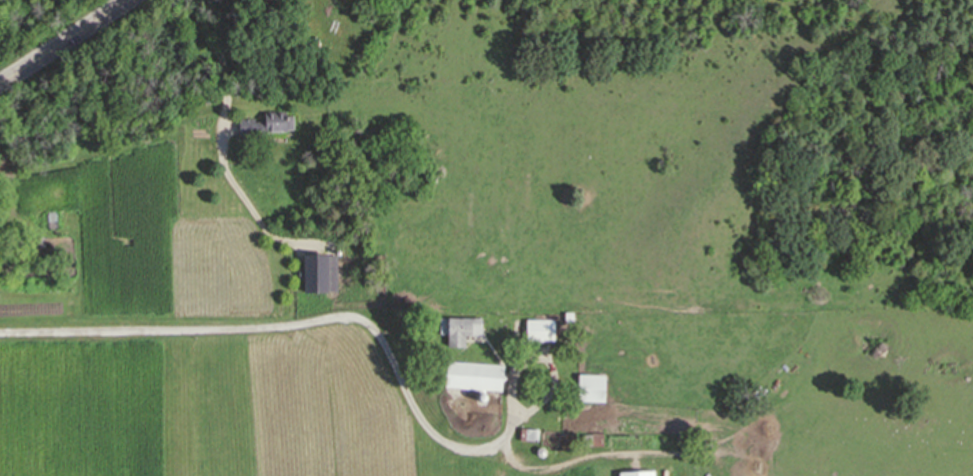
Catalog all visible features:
road: (65, 41)
building: (204, 95)
building: (263, 125)
road: (220, 137)
building: (51, 219)
building: (315, 273)
building: (568, 315)
road: (301, 321)
building: (538, 329)
building: (459, 330)
building: (473, 377)
building: (587, 387)
building: (528, 437)
building: (596, 437)
building: (584, 439)
building: (638, 474)

